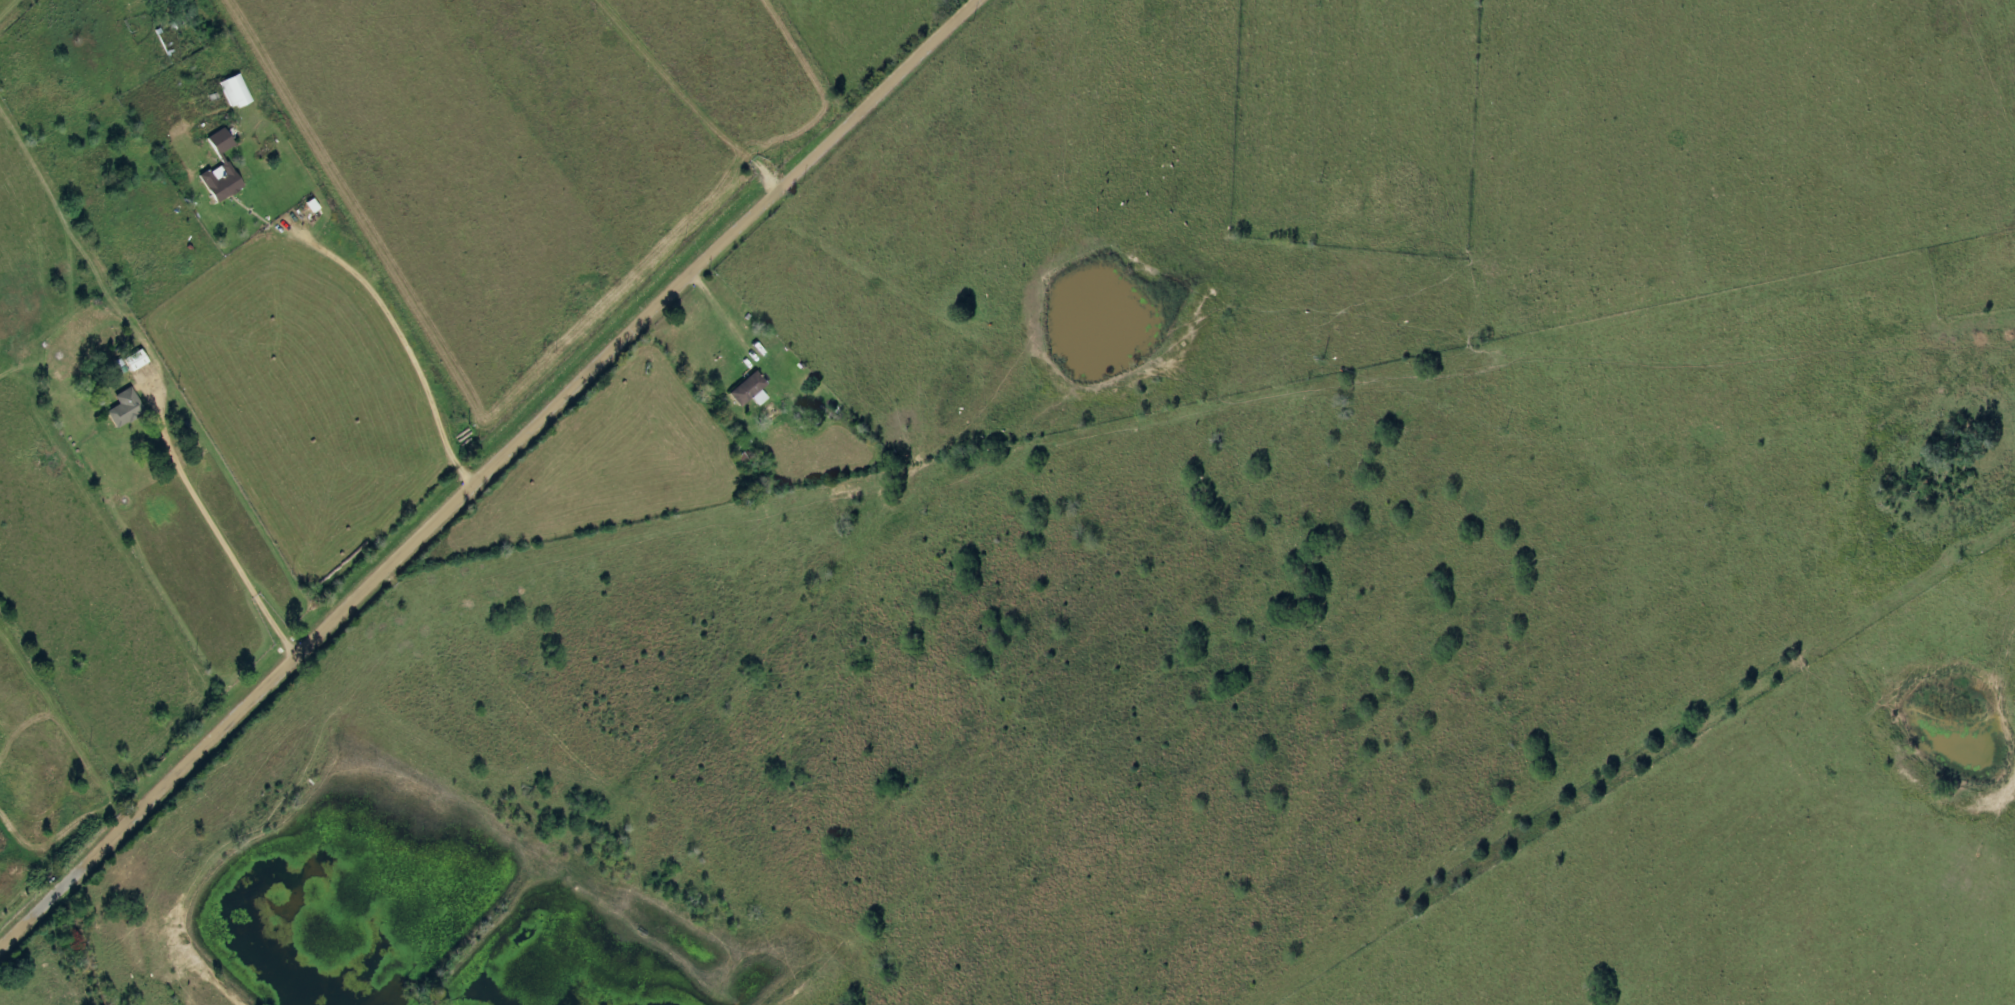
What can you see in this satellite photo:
building: (233, 92)
road: (692, 93)
building: (222, 161)
road: (402, 341)
building: (133, 360)
building: (747, 390)
building: (123, 408)
road: (485, 471)
road: (208, 509)

